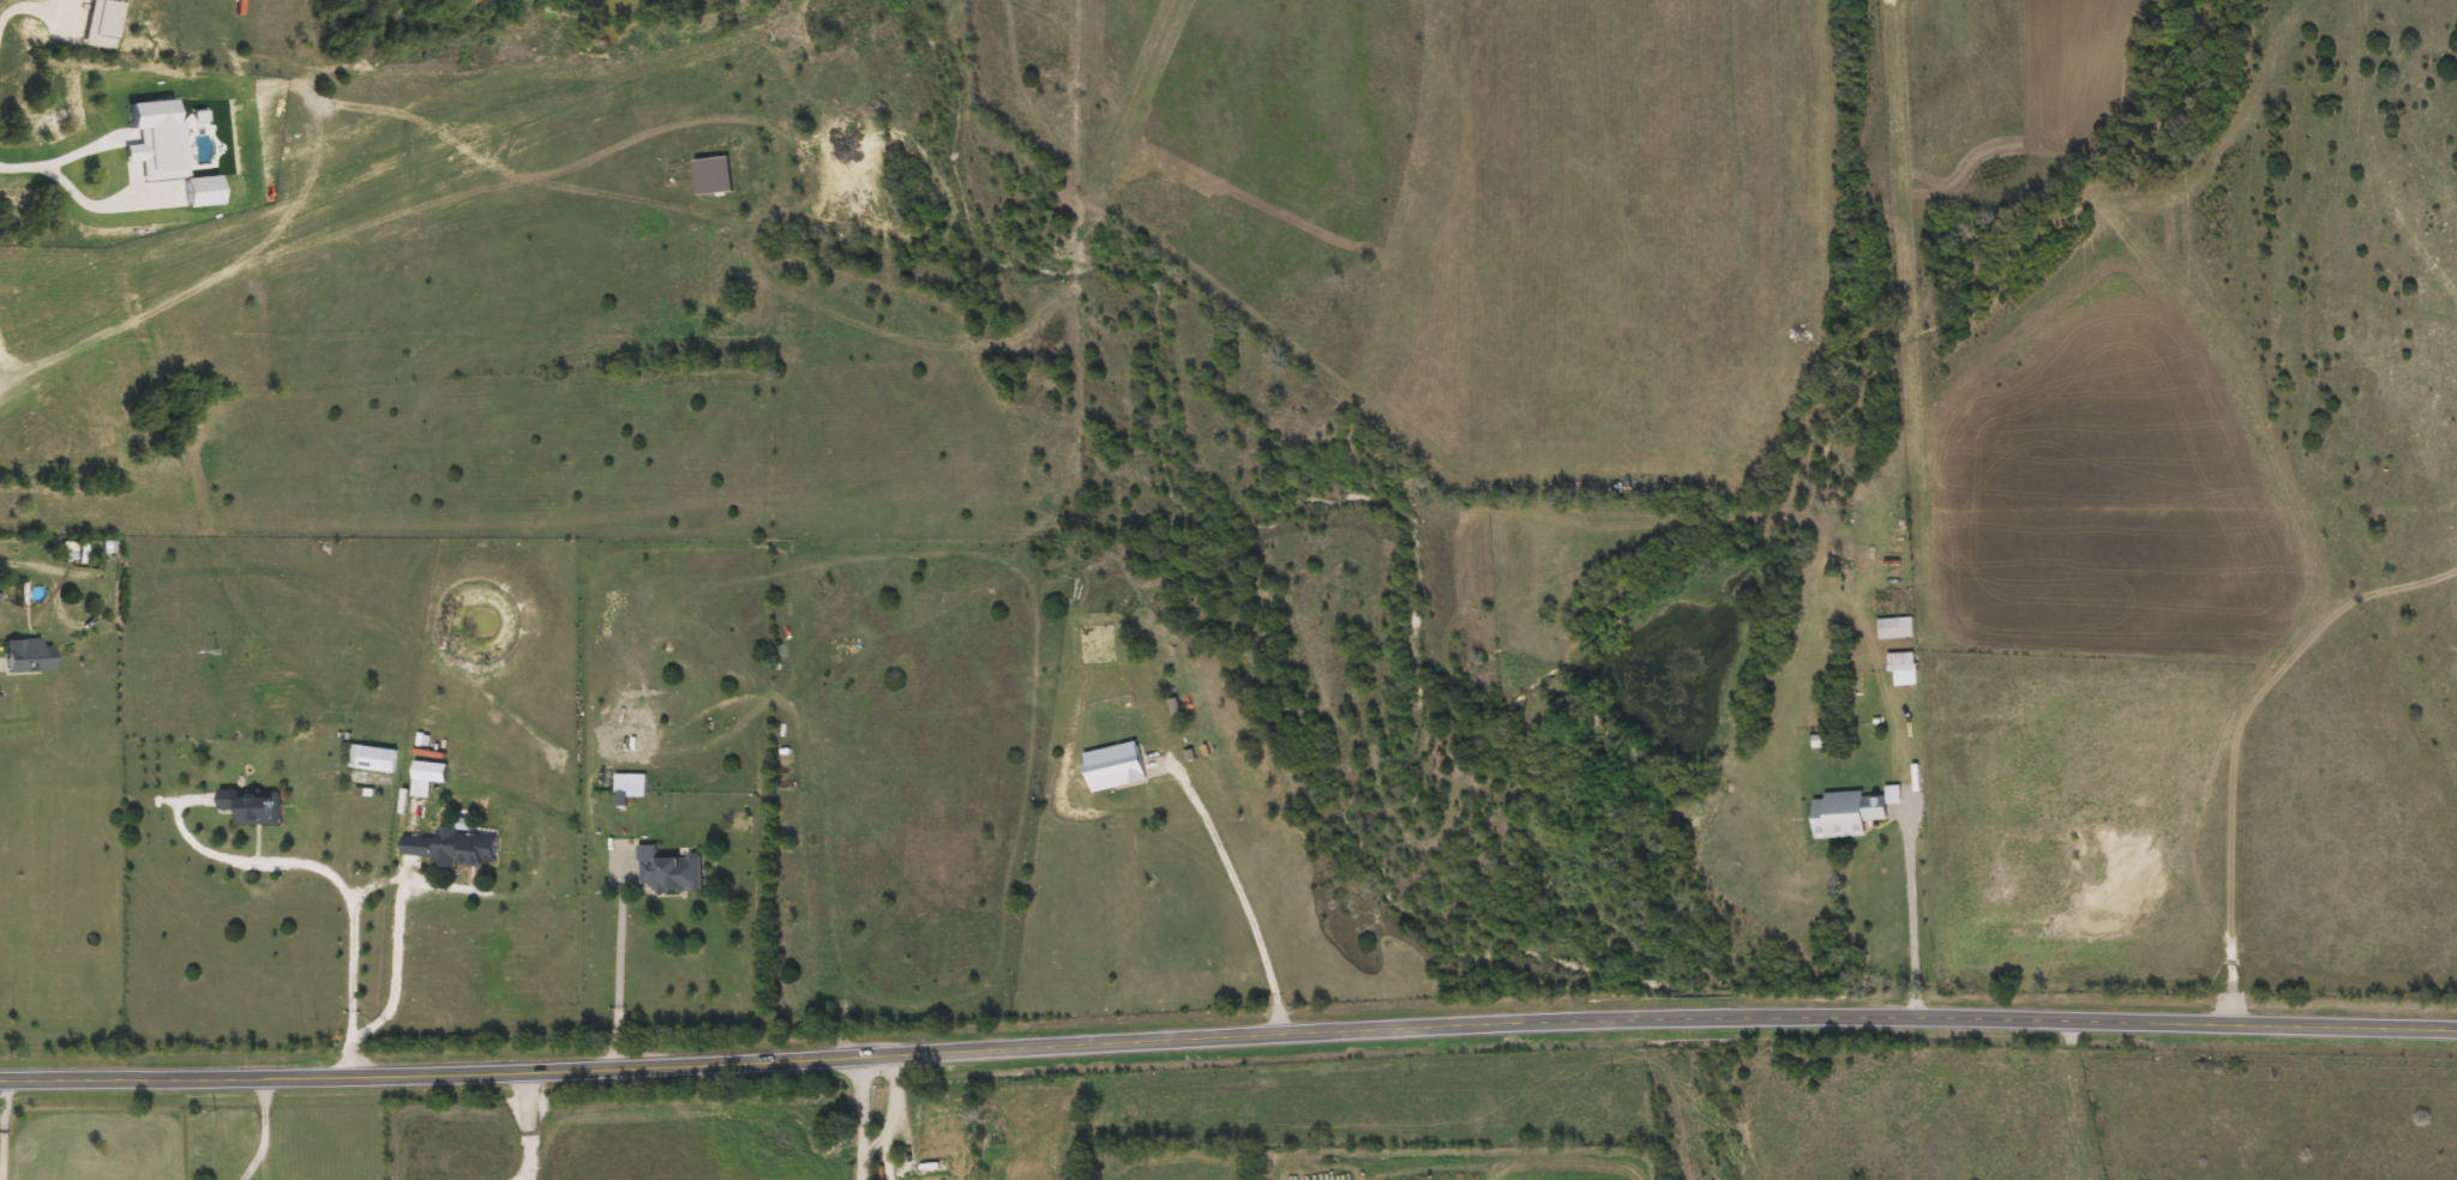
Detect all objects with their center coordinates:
road: (12, 1)
road: (65, 158)
road: (100, 204)
building: (1896, 627)
building: (26, 656)
building: (377, 759)
building: (1115, 766)
building: (252, 806)
building: (1848, 814)
building: (465, 849)
building: (668, 872)
road: (336, 881)
road: (1243, 895)
road: (1914, 914)
road: (624, 958)
road: (395, 967)
road: (1227, 1034)
road: (861, 1116)
road: (885, 1116)
road: (0, 1126)
road: (528, 1126)
road: (262, 1128)
building: (941, 1134)

